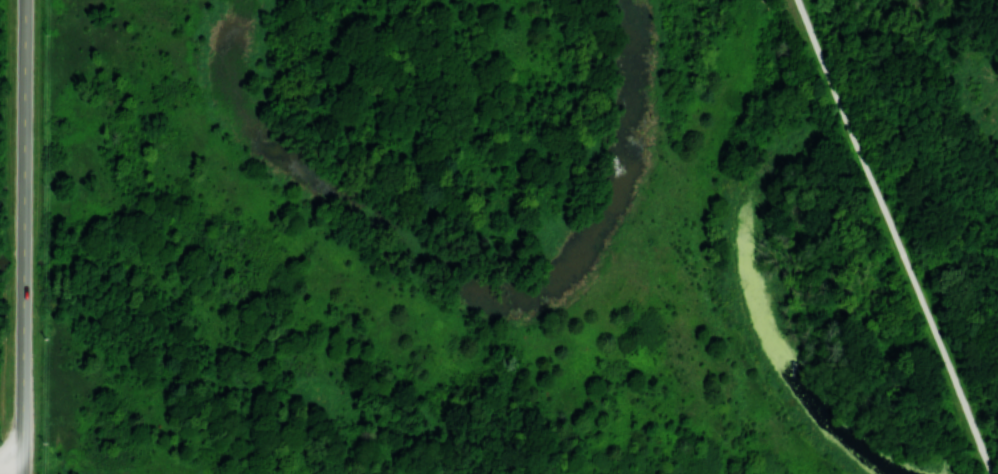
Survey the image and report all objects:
road: (928, 22)
road: (24, 232)
road: (895, 237)
road: (11, 464)
park: (11, 468)
road: (22, 469)

